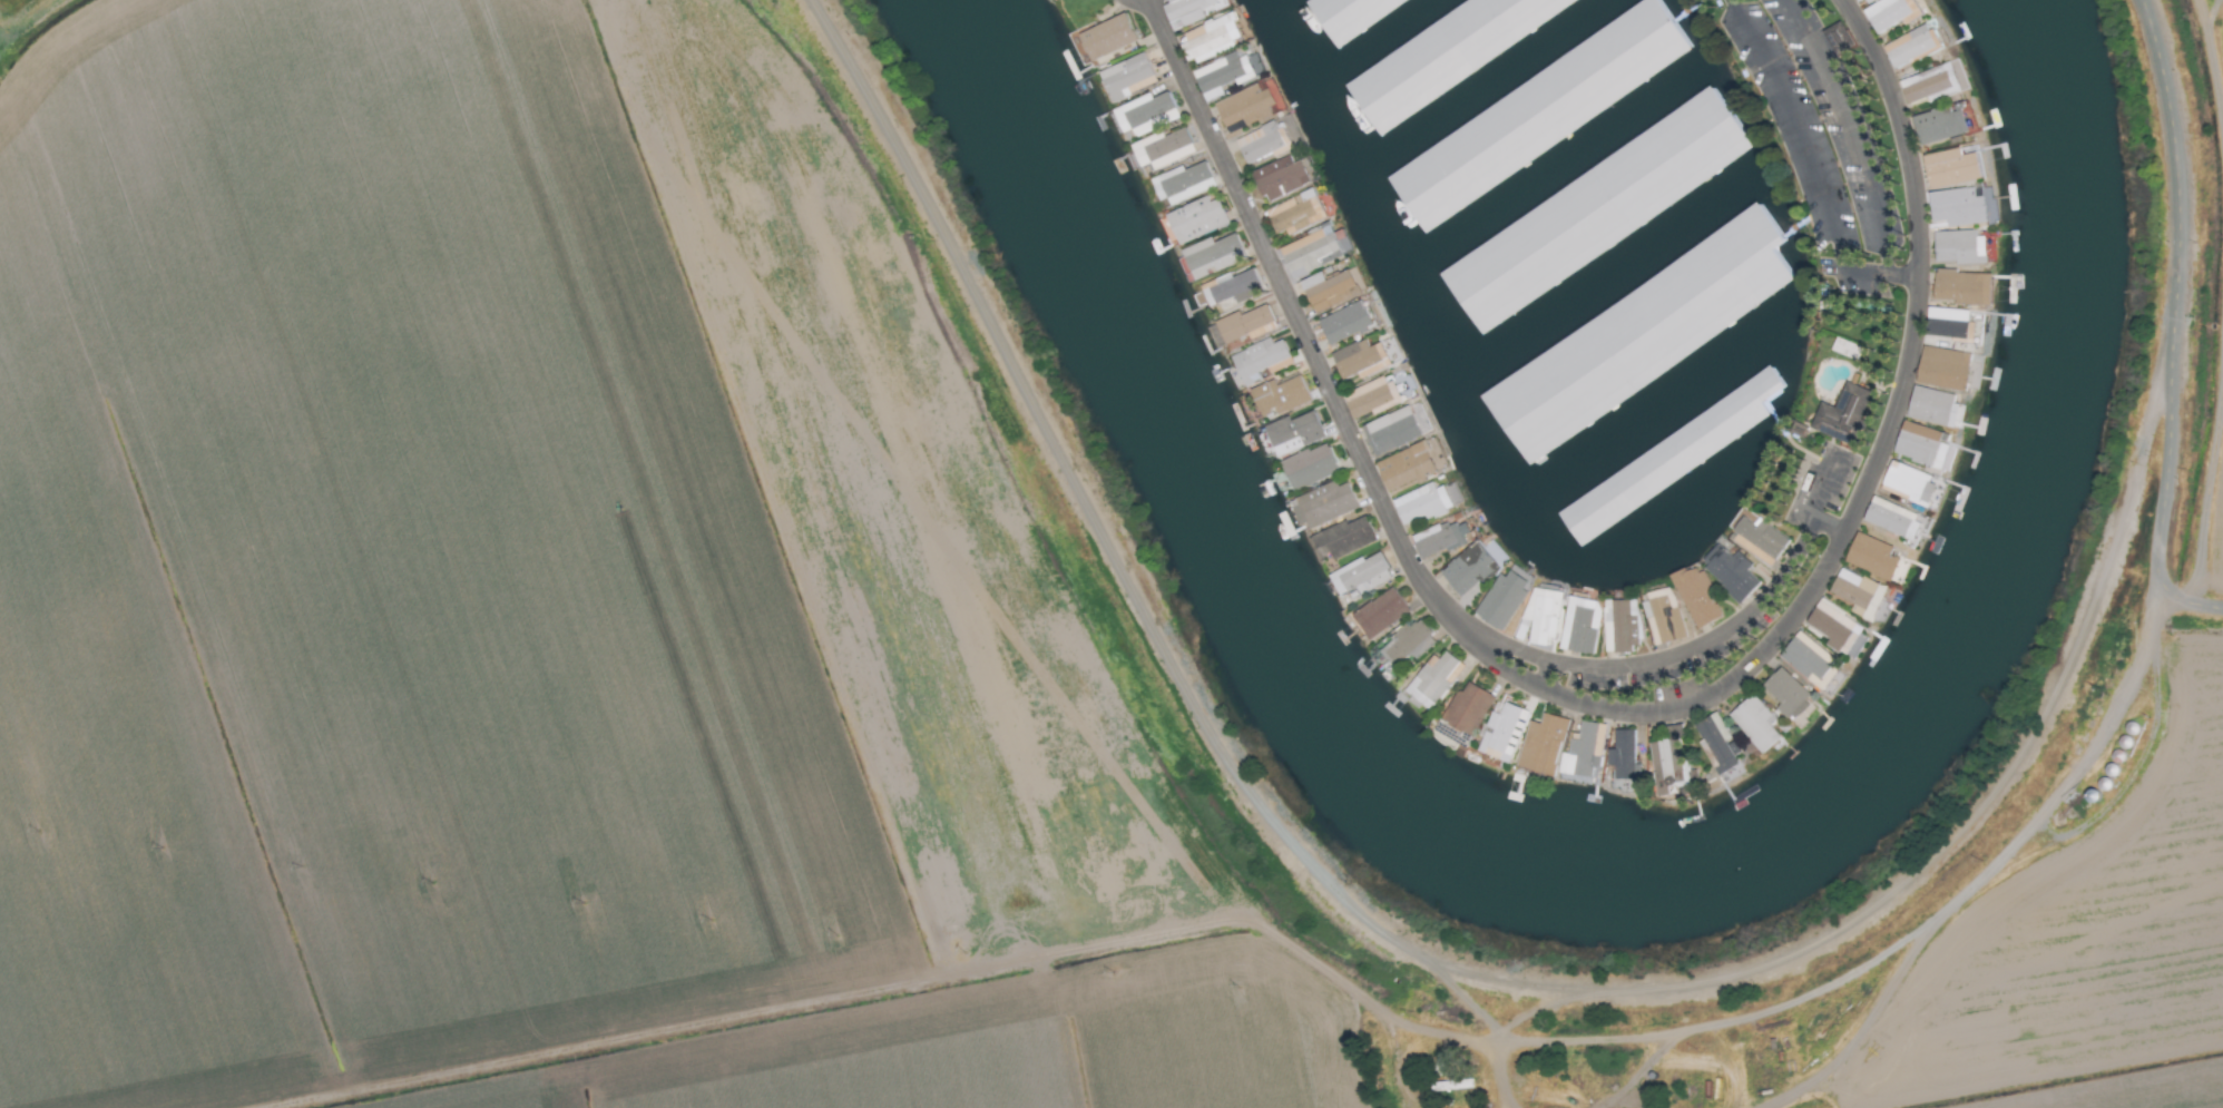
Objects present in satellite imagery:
building: (1862, 2)
building: (1186, 11)
building: (1890, 13)
building: (1656, 32)
building: (1107, 38)
building: (1210, 38)
building: (1910, 46)
building: (1225, 75)
building: (1127, 78)
building: (1929, 85)
building: (1245, 107)
building: (1145, 114)
building: (1940, 125)
road: (1795, 133)
road: (1843, 133)
building: (1259, 143)
building: (1163, 149)
building: (1951, 168)
building: (1279, 179)
building: (1182, 184)
building: (1295, 213)
building: (1195, 219)
building: (1958, 247)
building: (1314, 251)
building: (1212, 256)
road: (1916, 267)
road: (1876, 276)
building: (1961, 287)
building: (1233, 291)
building: (1329, 291)
building: (1947, 323)
road: (1299, 324)
building: (1344, 324)
road: (2171, 324)
building: (1245, 325)
building: (1259, 361)
building: (1360, 361)
building: (1943, 369)
building: (1279, 396)
building: (1371, 398)
building: (1933, 408)
building: (1842, 415)
building: (1391, 432)
building: (1293, 433)
building: (1920, 445)
building: (1407, 467)
building: (1309, 468)
building: (1909, 484)
road: (1824, 491)
building: (1452, 493)
building: (1323, 504)
building: (1421, 504)
building: (1892, 520)
road: (1825, 530)
building: (1343, 538)
building: (1761, 538)
building: (1438, 540)
building: (1871, 557)
building: (1472, 568)
building: (1732, 575)
building: (1361, 576)
building: (1858, 594)
building: (1696, 597)
building: (1502, 599)
building: (1380, 614)
building: (1540, 617)
building: (1663, 617)
building: (1579, 626)
building: (1620, 627)
building: (1838, 629)
building: (1407, 644)
crop: (800, 650)
road: (1665, 654)
building: (1810, 661)
building: (1433, 680)
building: (1786, 694)
road: (1683, 707)
building: (1467, 709)
building: (1755, 724)
building: (1502, 733)
building: (1717, 743)
building: (1541, 745)
building: (1623, 754)
building: (1668, 766)

